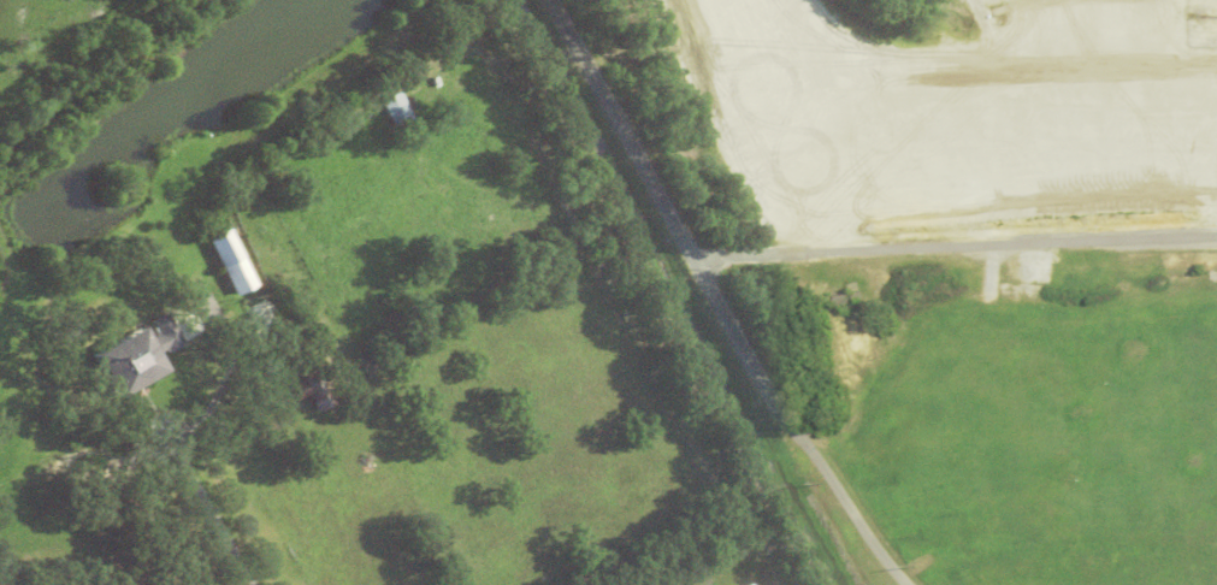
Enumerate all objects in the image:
building: (396, 108)
building: (232, 261)
road: (716, 300)
building: (264, 315)
building: (267, 325)
building: (136, 355)
building: (313, 392)
road: (199, 490)

